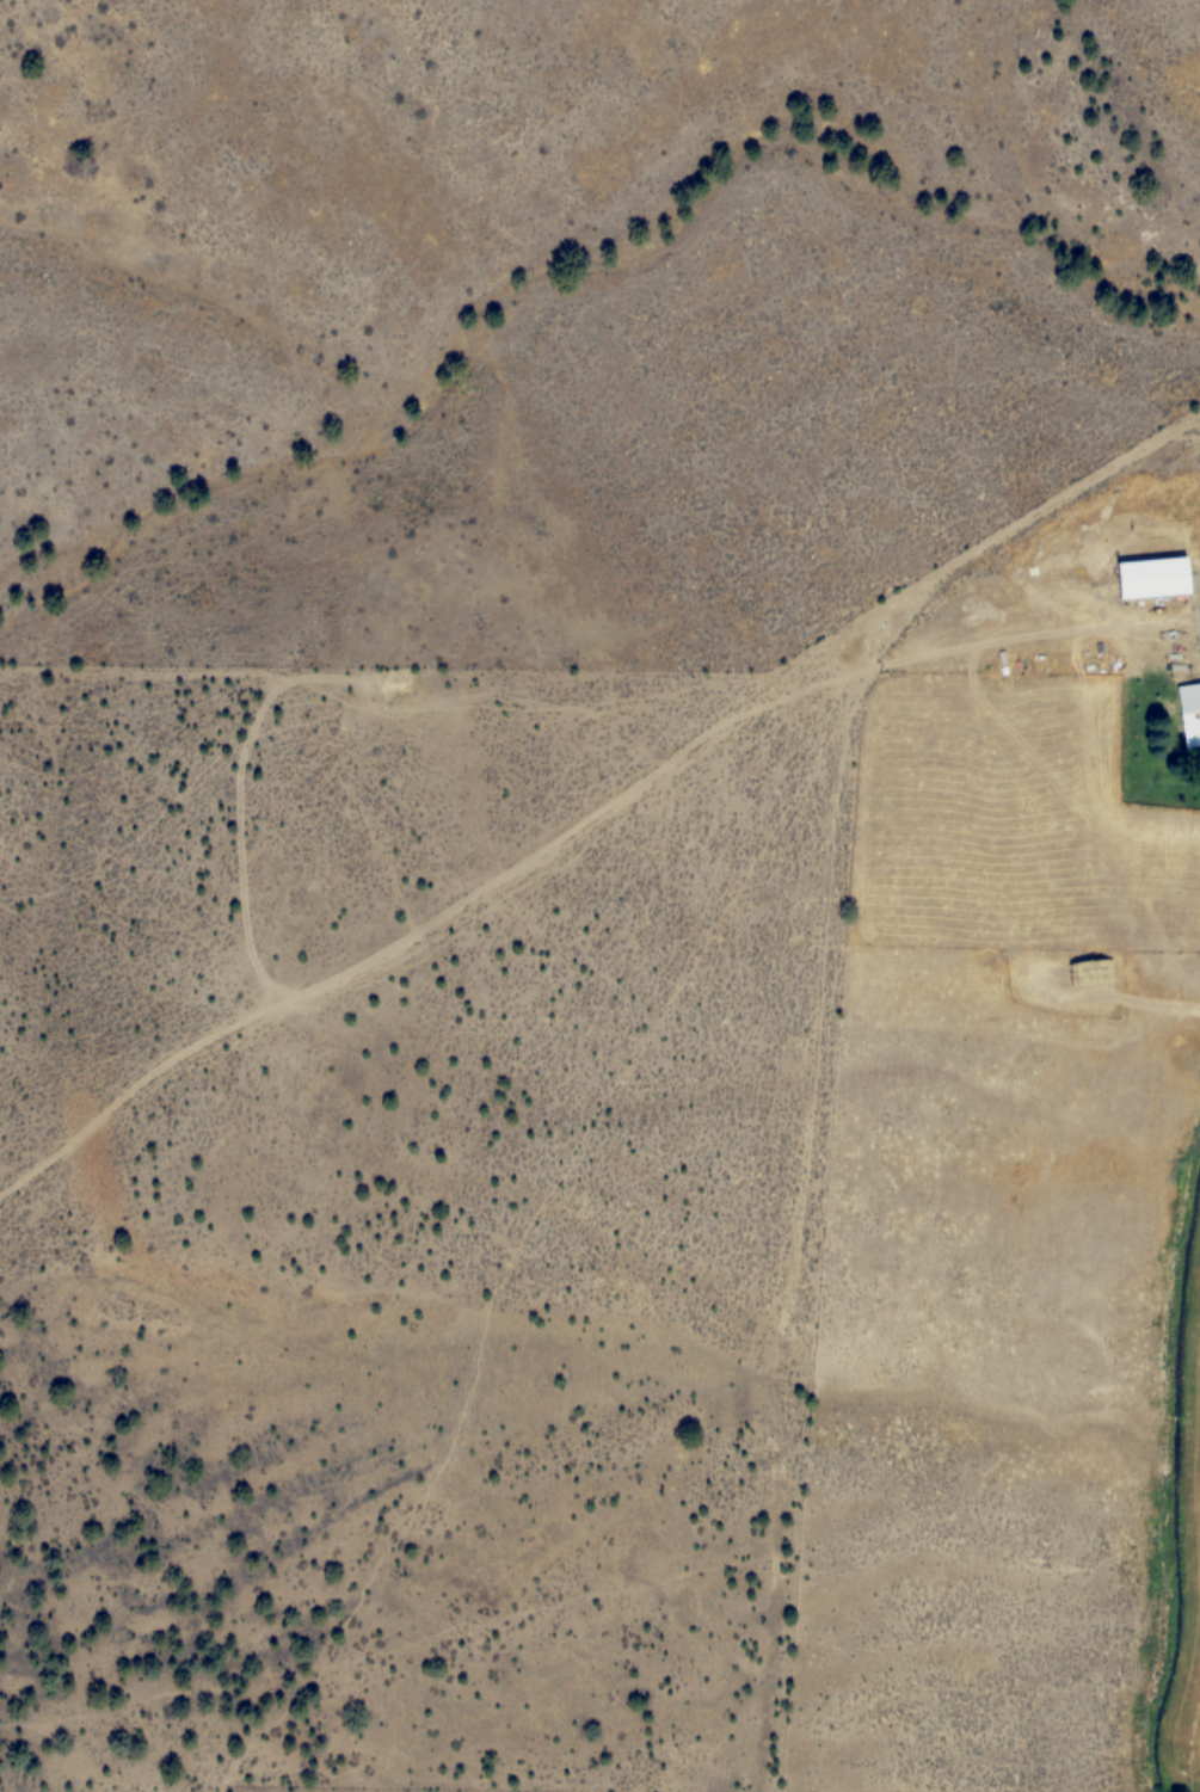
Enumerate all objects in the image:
building: (1190, 714)
road: (565, 832)

